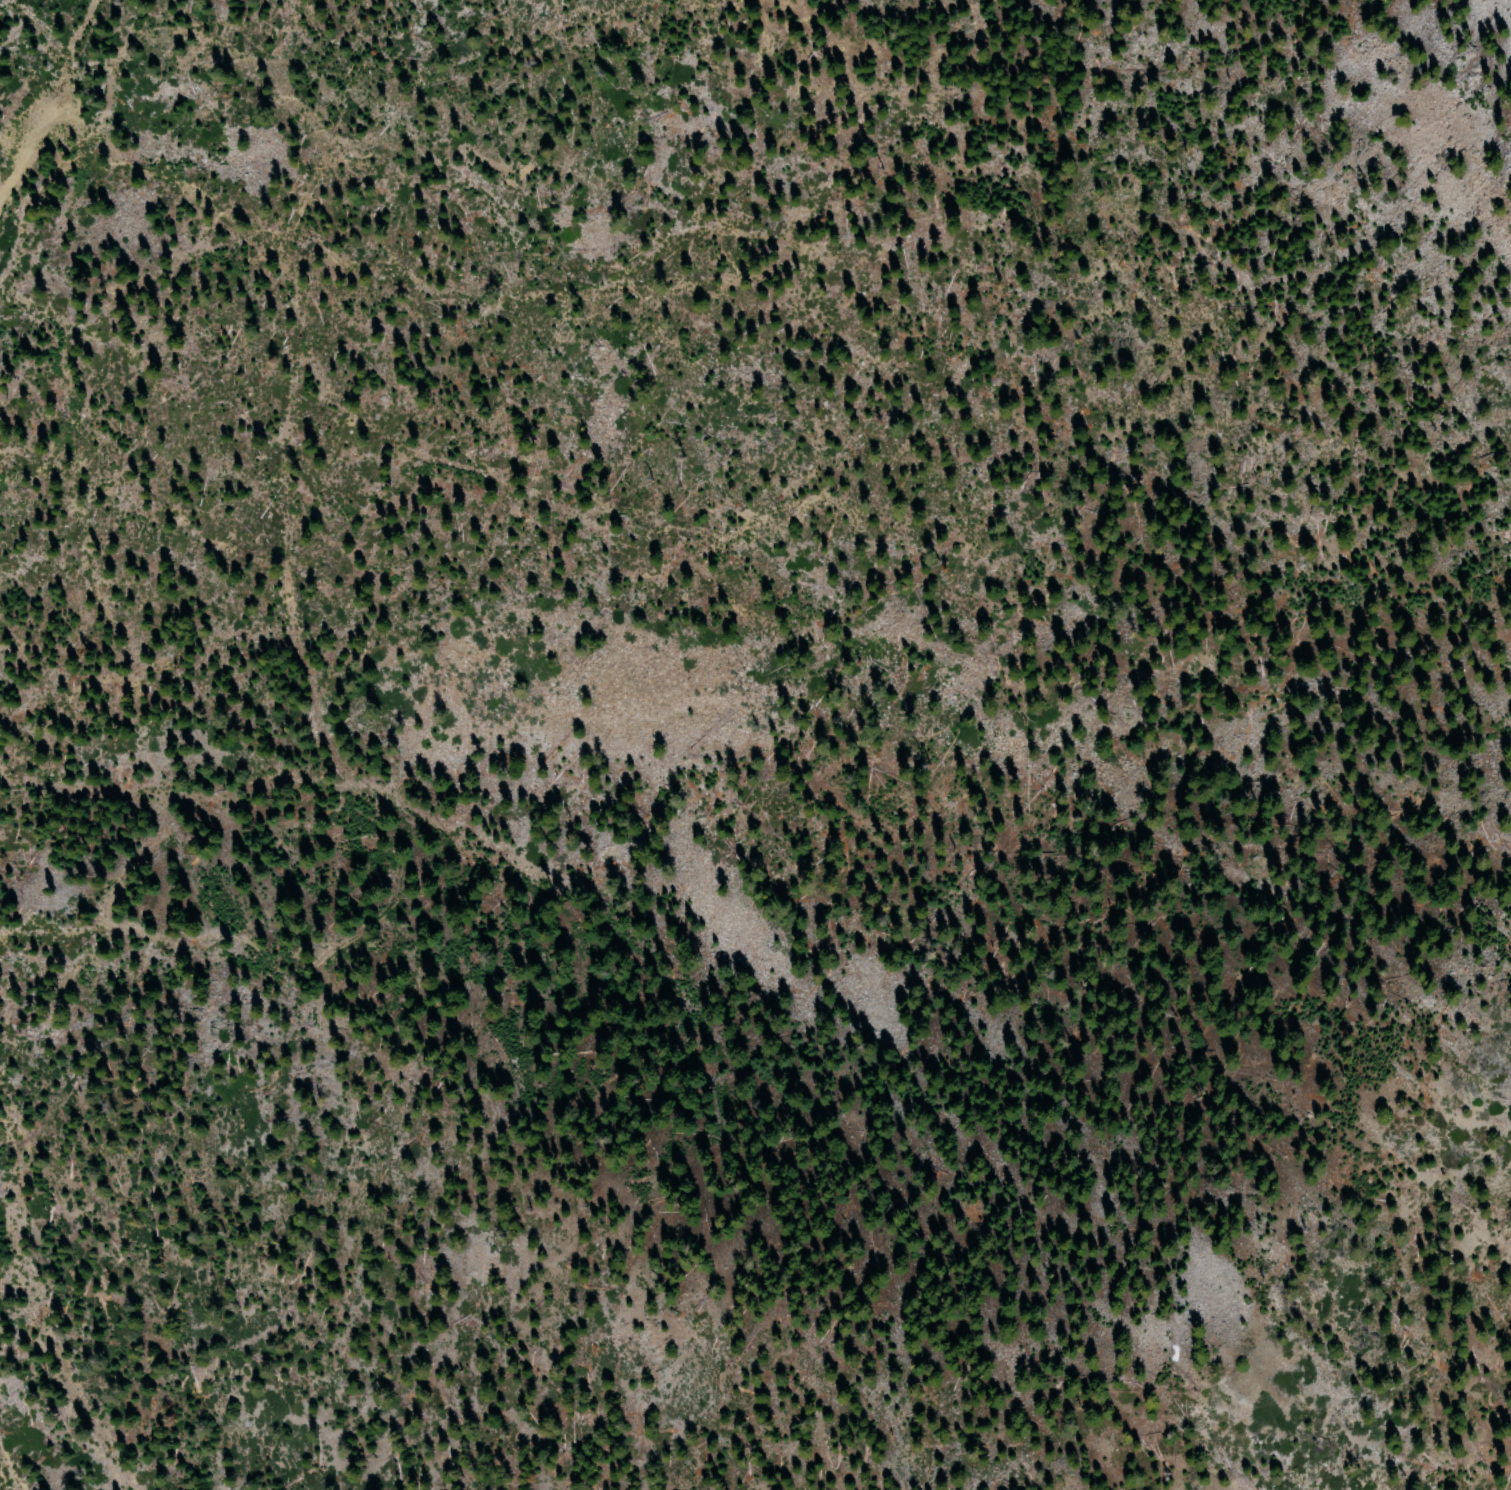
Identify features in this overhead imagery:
road: (47, 57)

